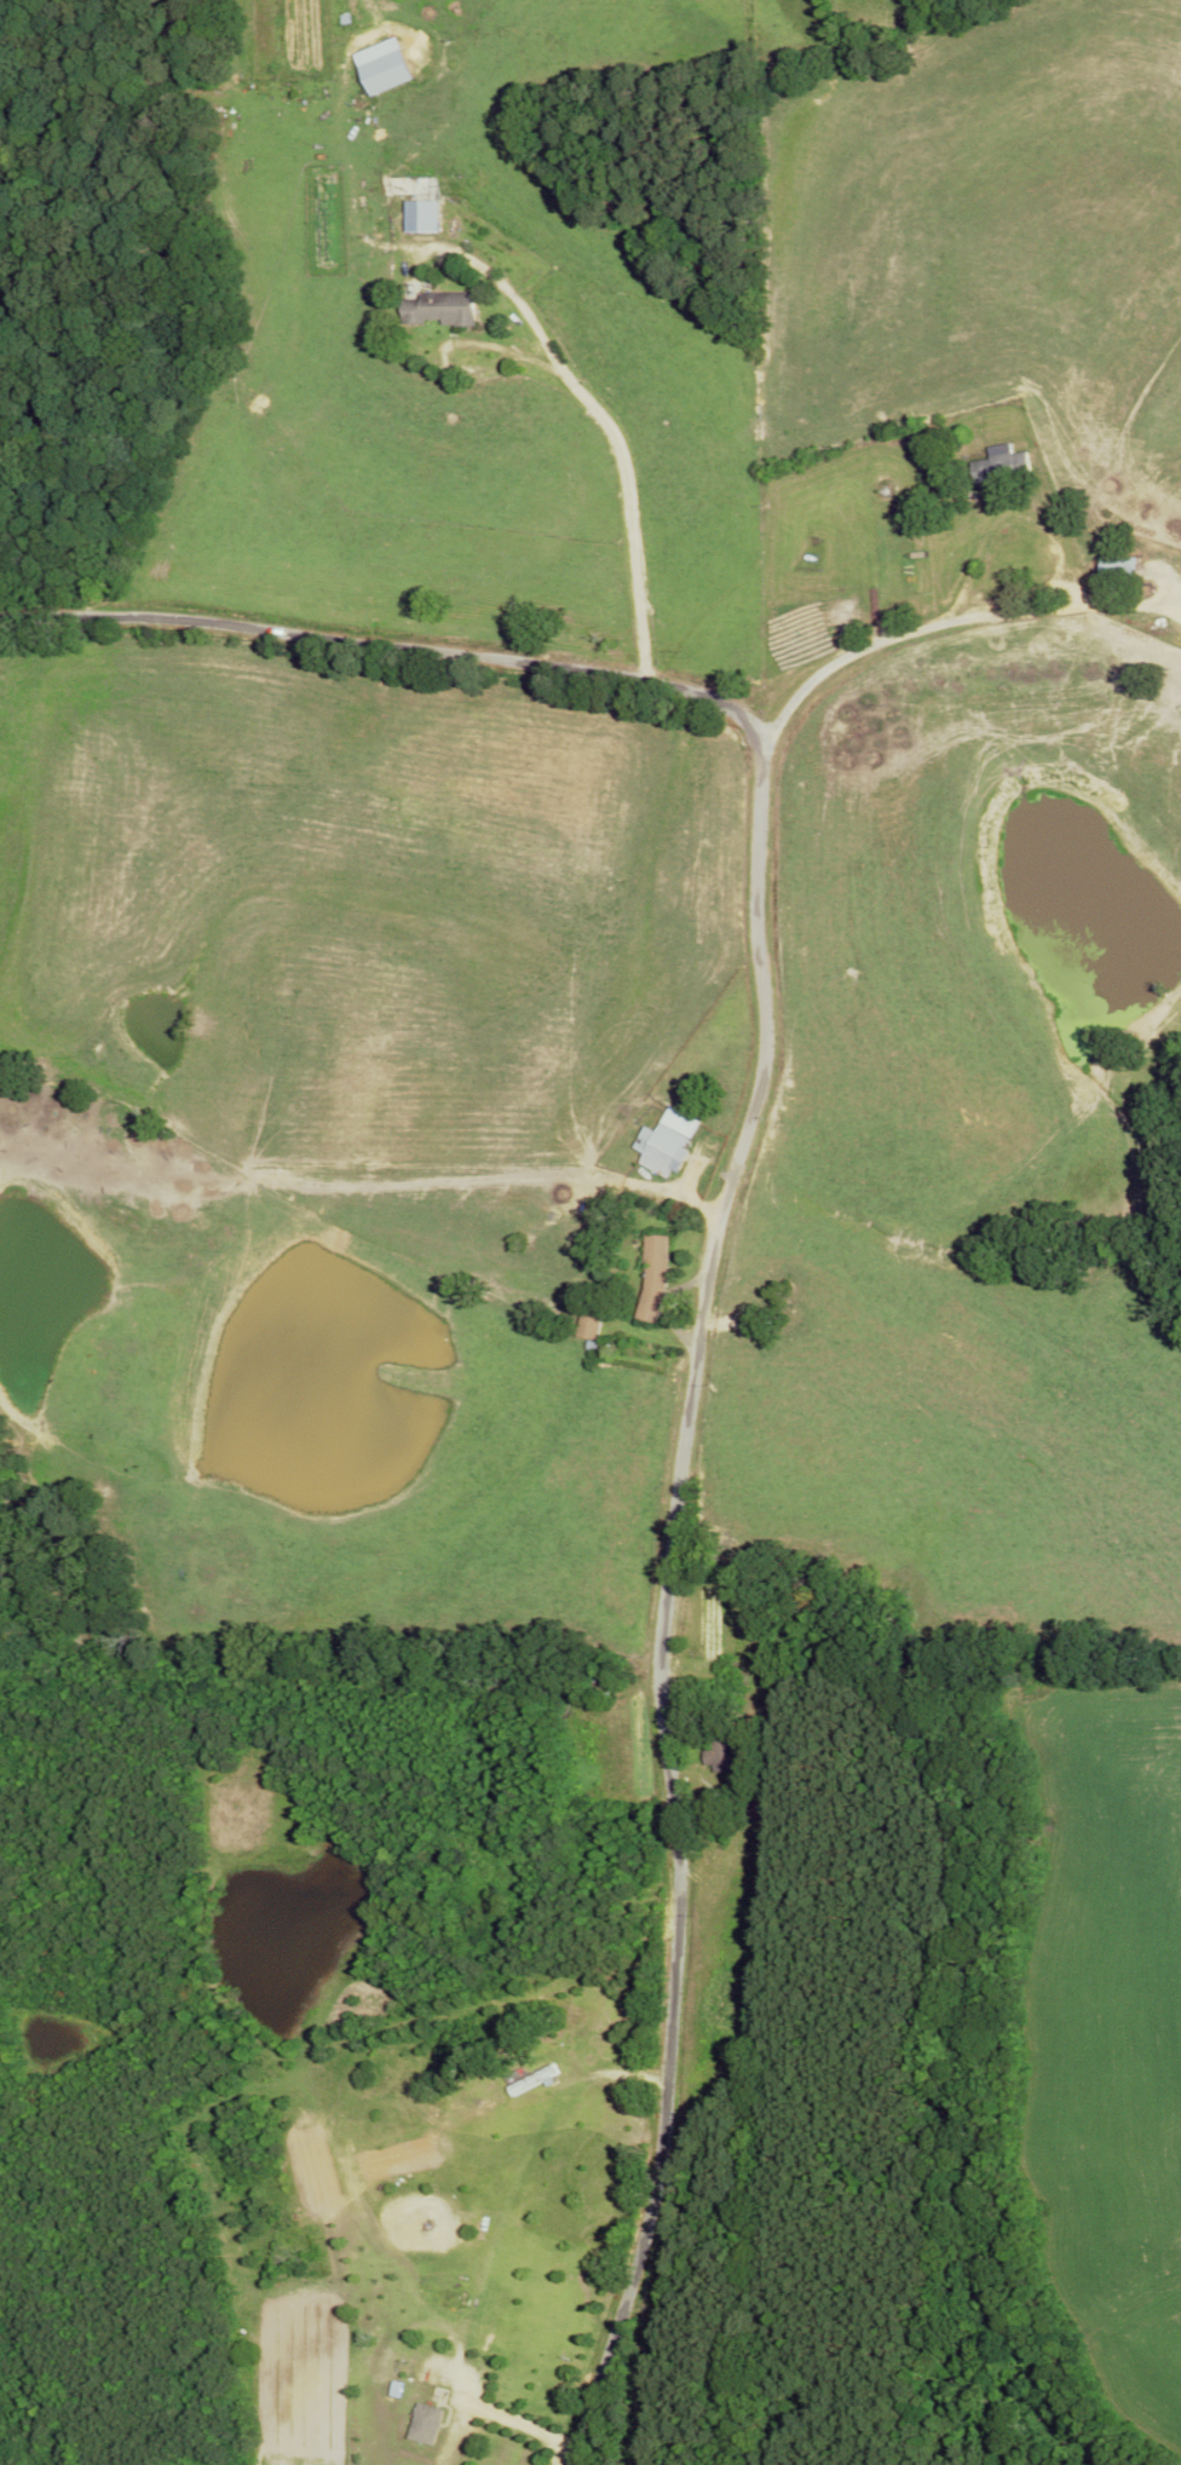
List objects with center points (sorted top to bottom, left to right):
building: (387, 76)
building: (422, 220)
building: (440, 313)
road: (612, 438)
building: (924, 459)
building: (1004, 468)
building: (1122, 575)
road: (851, 664)
building: (661, 1152)
road: (725, 1217)
building: (655, 1282)
building: (589, 1330)
building: (600, 1688)
building: (725, 1758)
building: (756, 1807)
building: (535, 2085)
road: (492, 2406)
building: (427, 2426)

